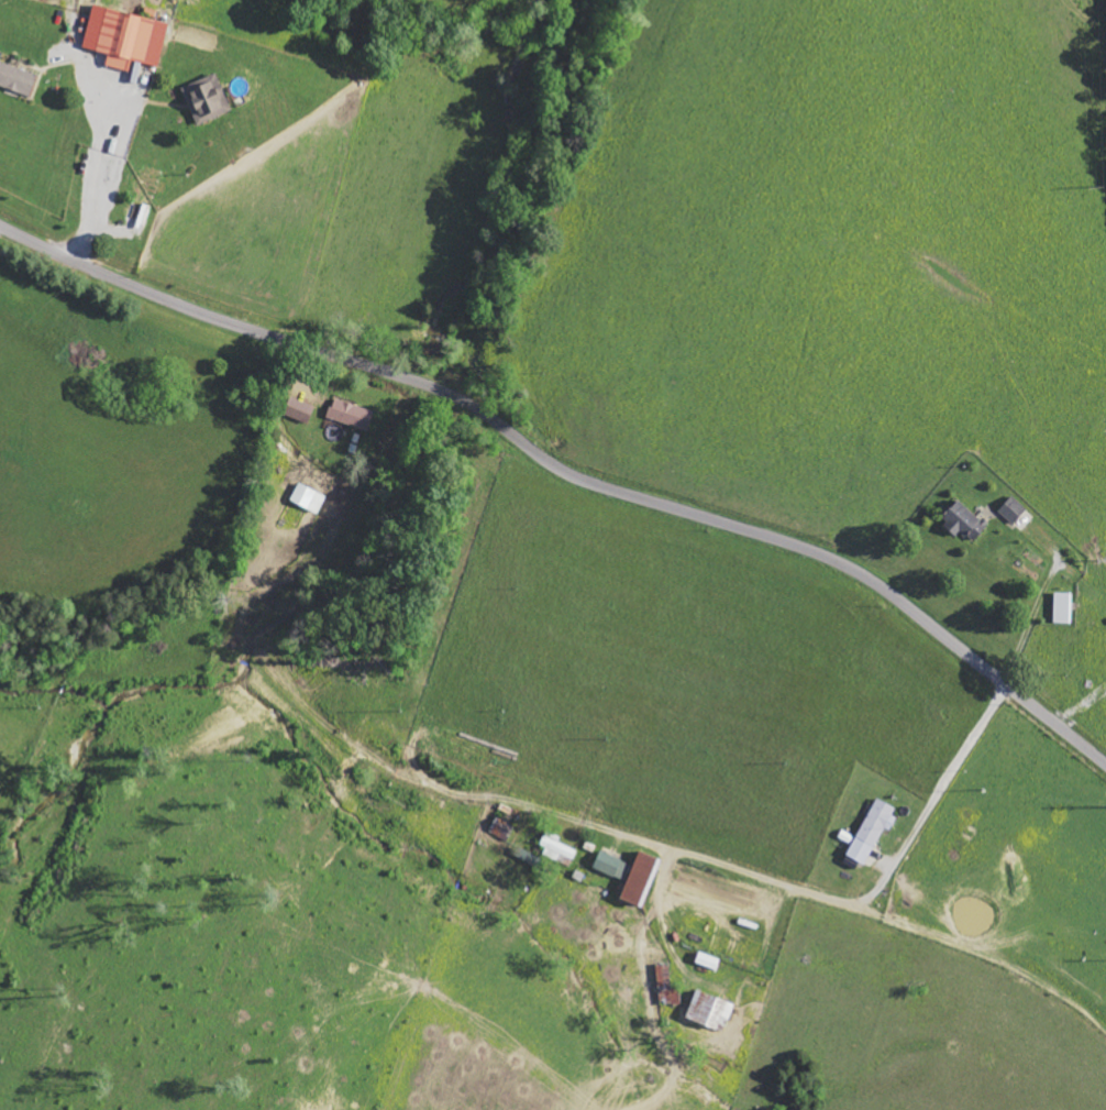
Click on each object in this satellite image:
building: (126, 36)
building: (16, 78)
building: (207, 98)
building: (301, 410)
building: (352, 414)
road: (566, 473)
building: (309, 497)
building: (1014, 509)
building: (966, 521)
building: (1064, 607)
building: (873, 829)
building: (558, 851)
building: (531, 858)
building: (613, 866)
building: (642, 878)
building: (668, 986)
building: (711, 1011)

